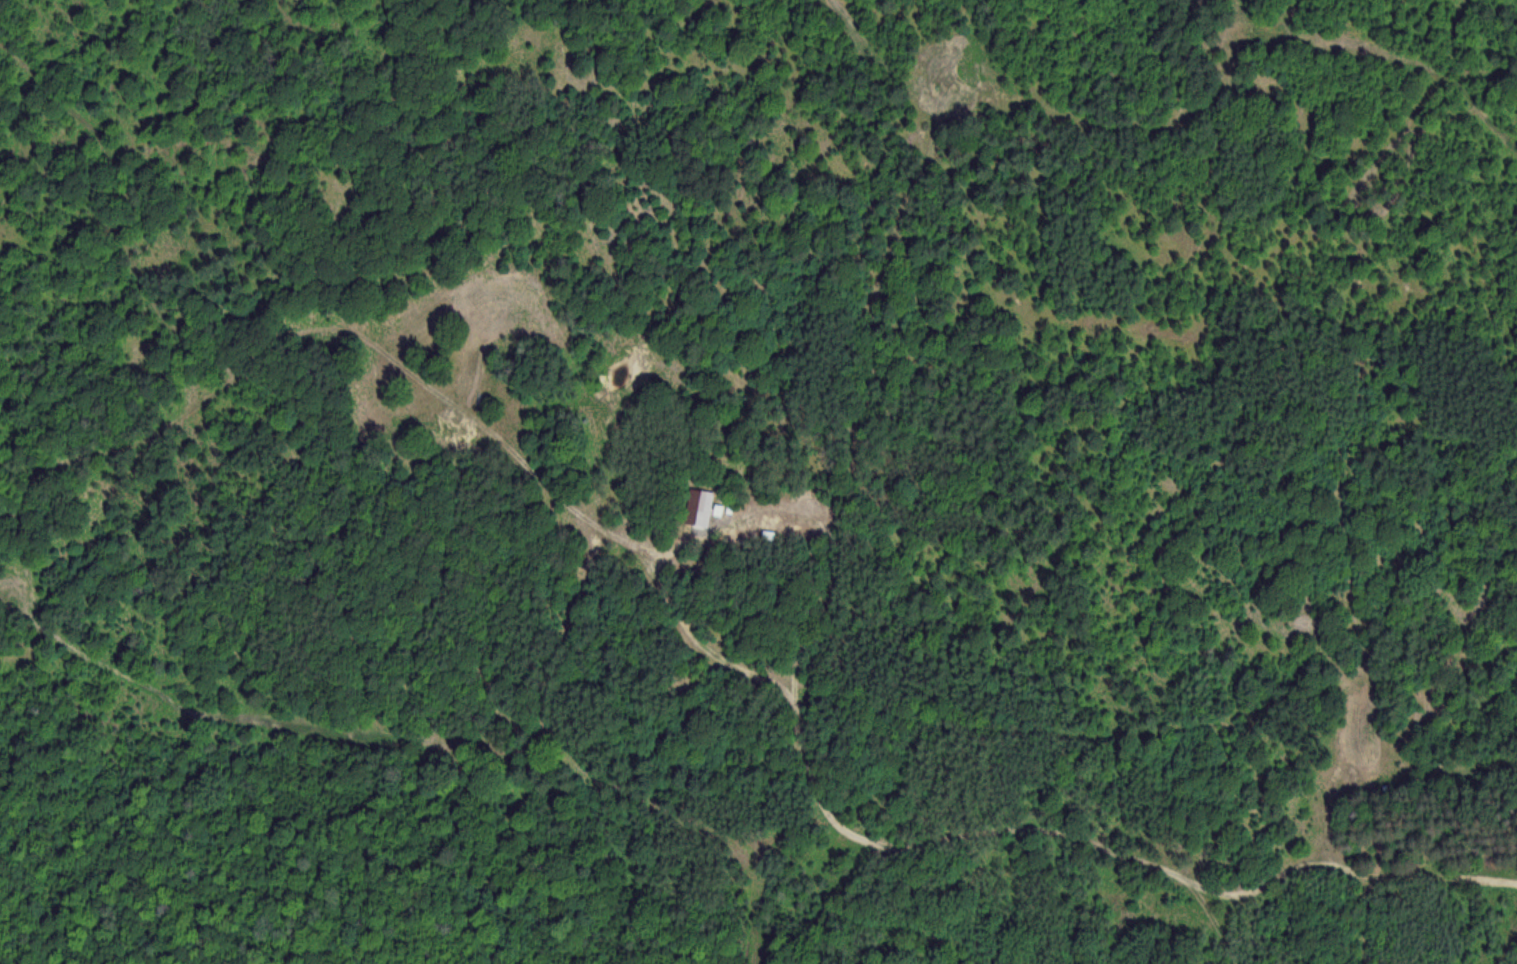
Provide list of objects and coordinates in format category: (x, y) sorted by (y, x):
building: (773, 526)
road: (992, 829)

